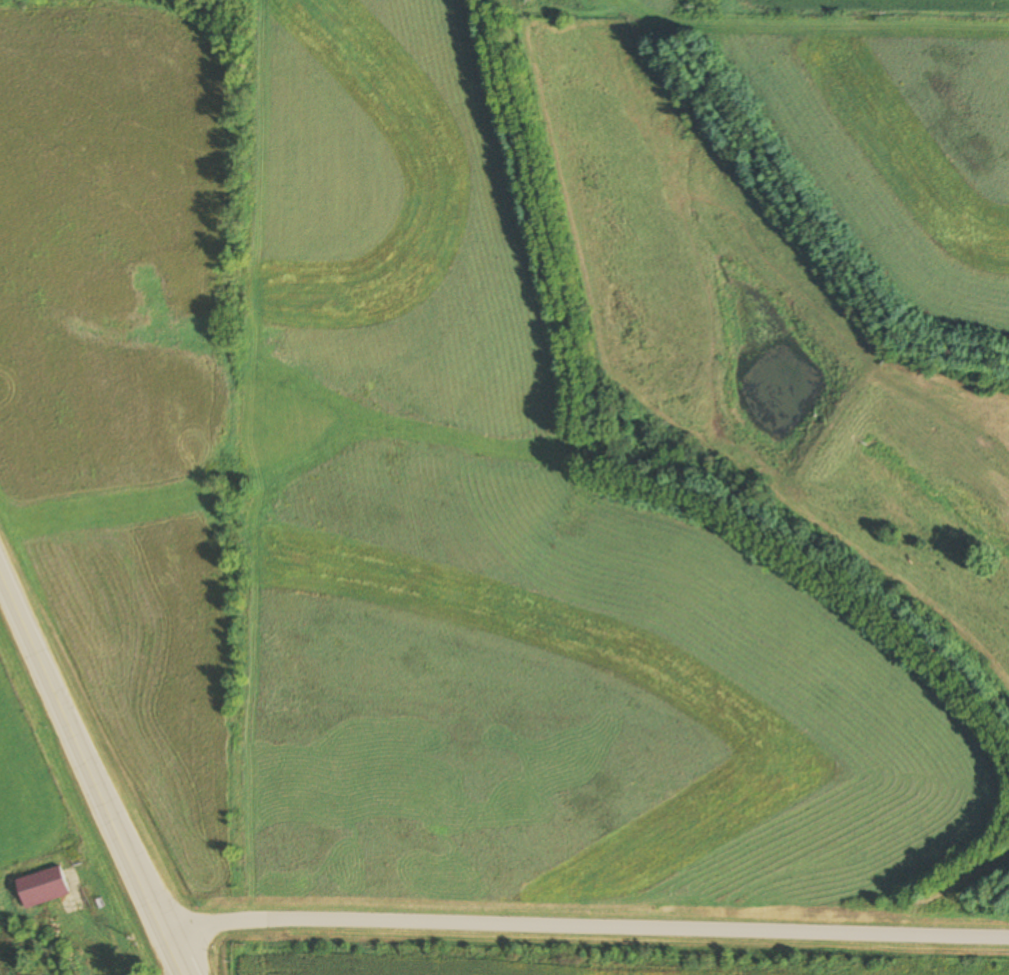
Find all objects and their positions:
road: (96, 774)
building: (43, 888)
road: (591, 927)

